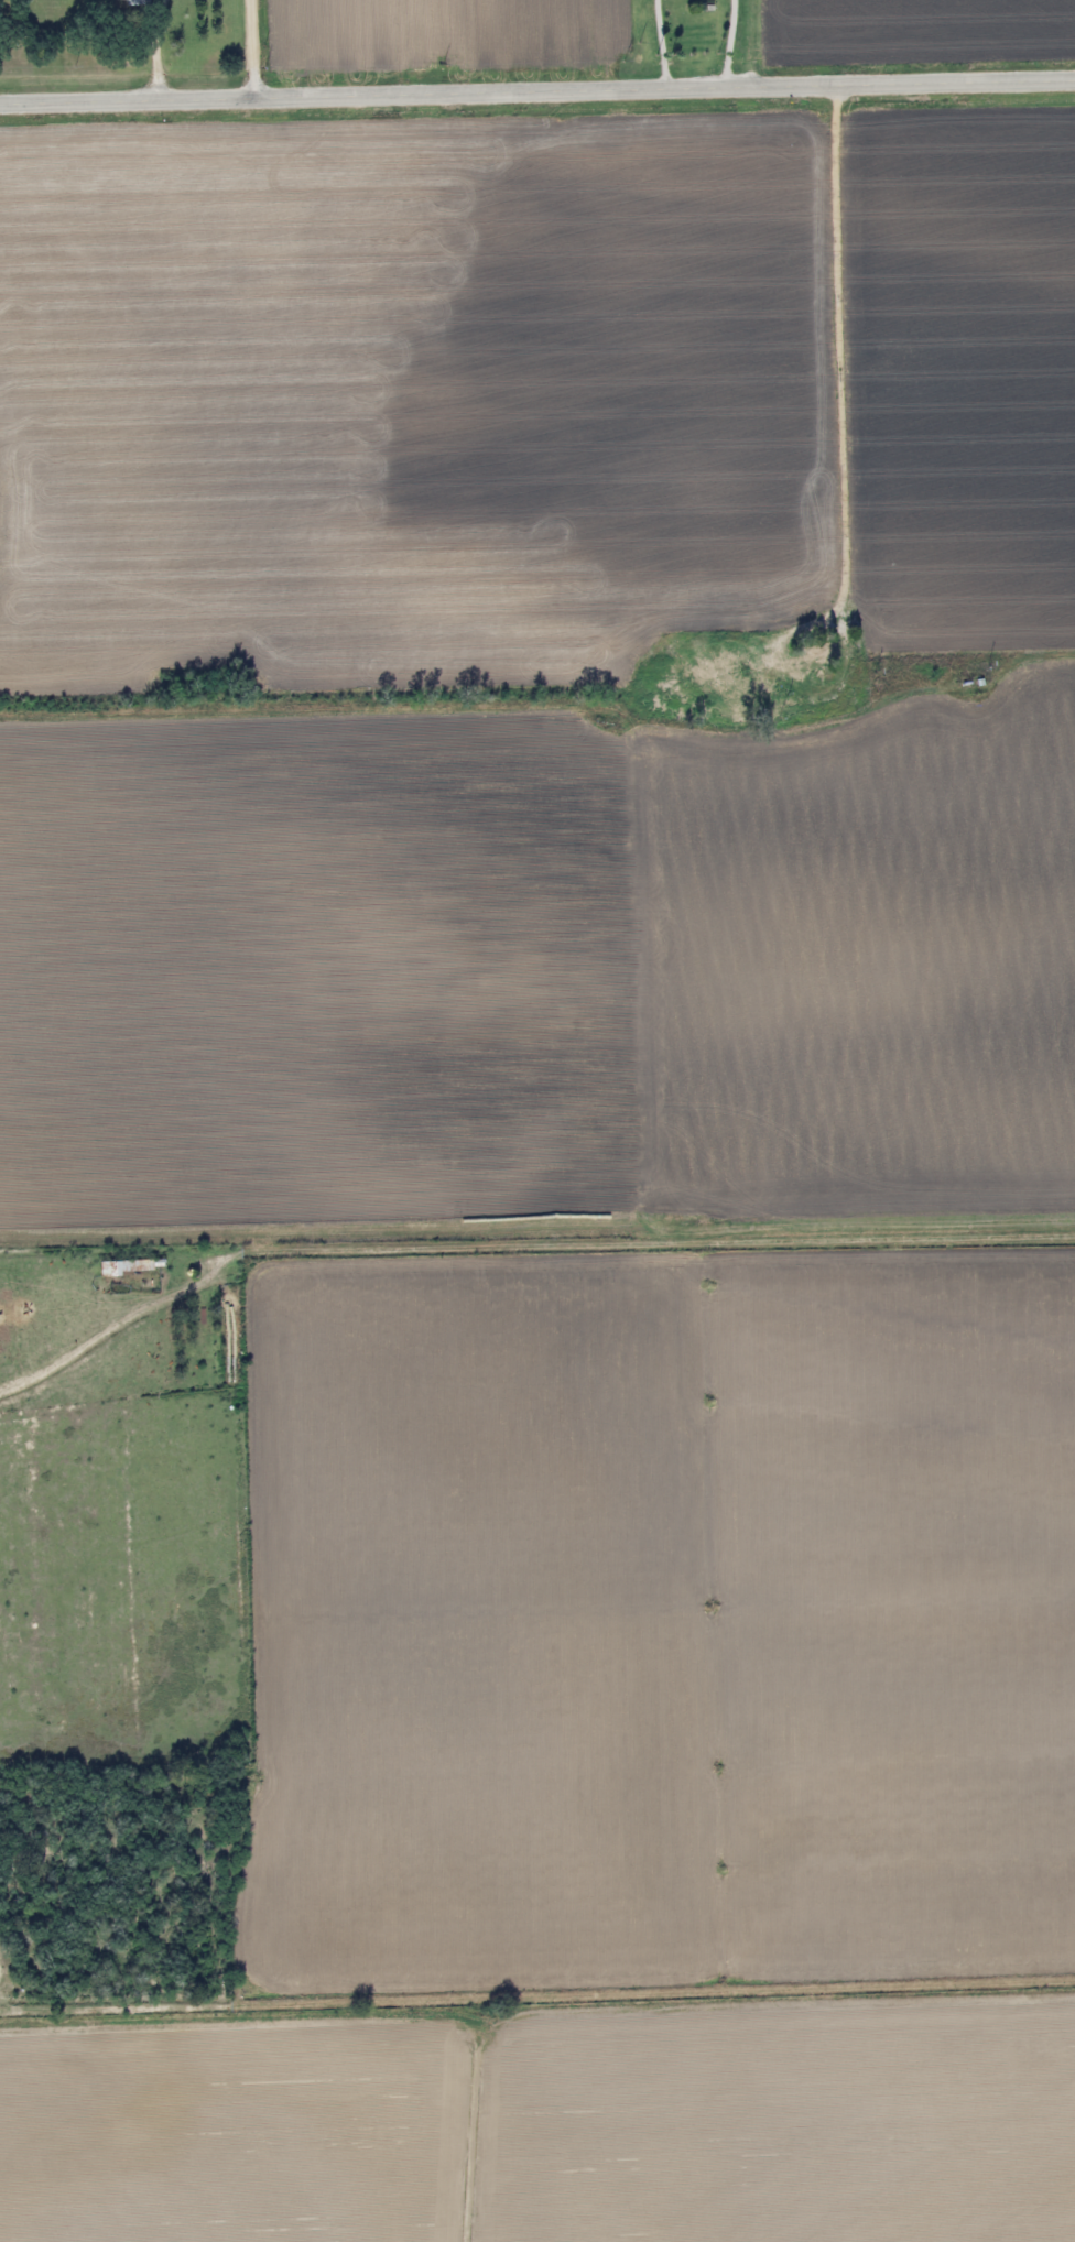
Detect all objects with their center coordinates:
building: (135, 1)
road: (784, 45)
road: (158, 48)
road: (249, 48)
road: (536, 92)
road: (859, 377)
building: (819, 655)
building: (120, 1267)

